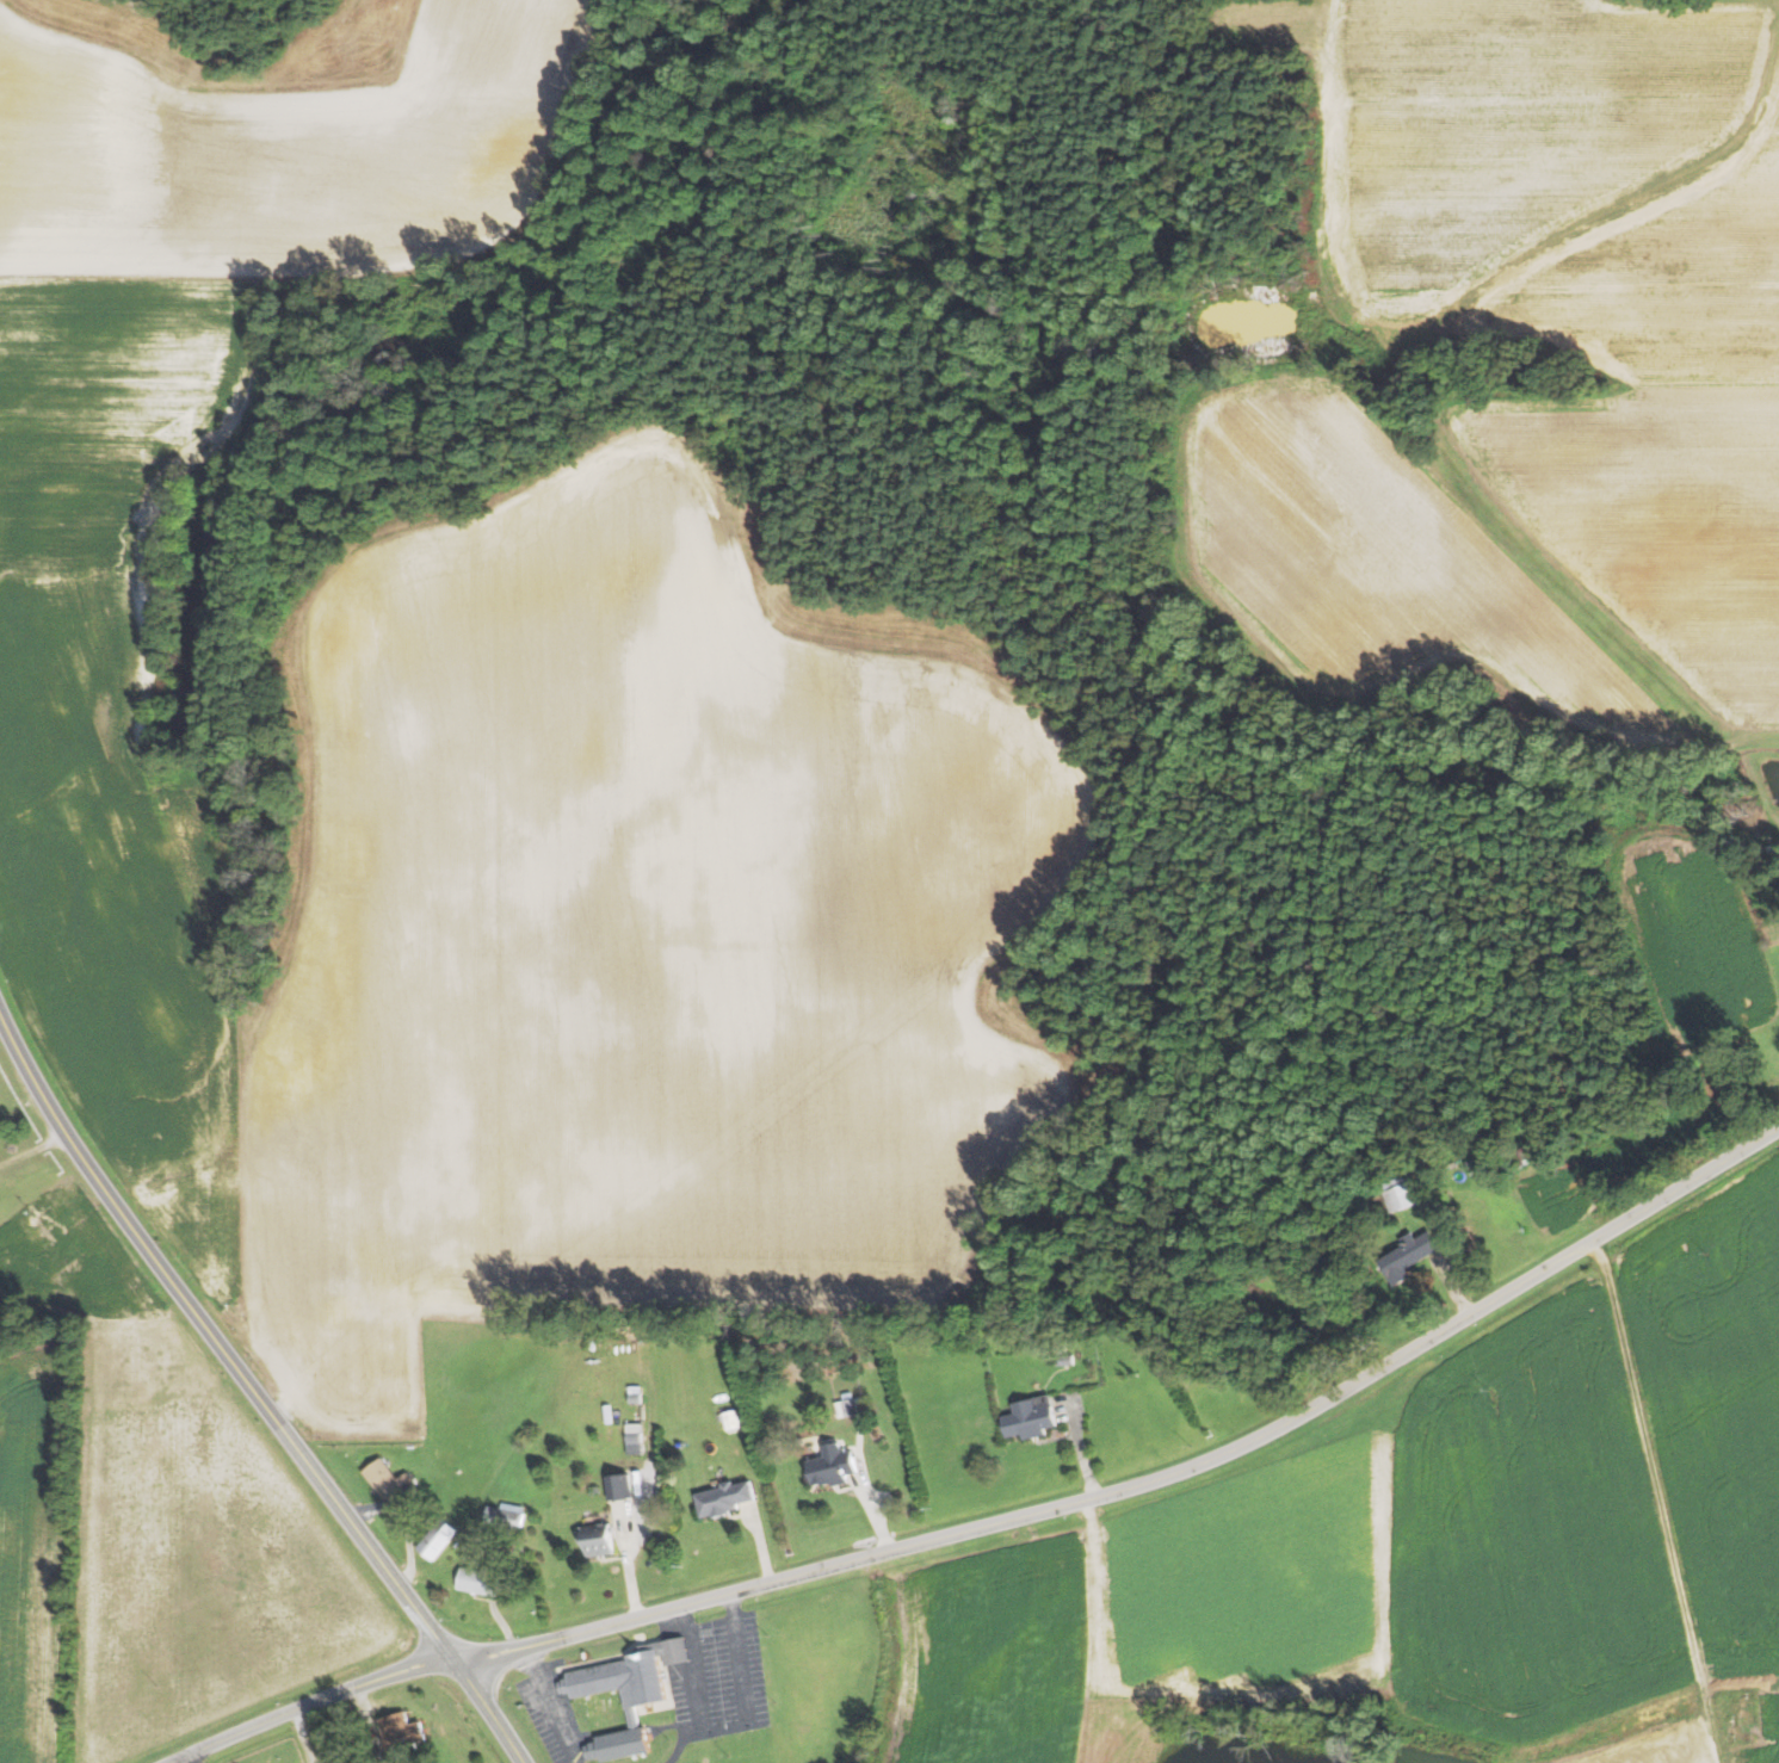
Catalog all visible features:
building: (1413, 1256)
road: (255, 1393)
building: (1033, 1417)
building: (733, 1419)
crop: (1717, 1419)
building: (636, 1442)
building: (835, 1466)
building: (390, 1481)
building: (622, 1487)
building: (728, 1498)
road: (1656, 1501)
building: (507, 1516)
road: (1005, 1521)
crop: (186, 1523)
building: (439, 1539)
building: (599, 1540)
crop: (30, 1552)
building: (481, 1582)
crop: (1340, 1585)
road: (691, 1669)
parking lot: (715, 1670)
building: (630, 1691)
road: (552, 1705)
road: (747, 1706)
parking lot: (549, 1707)
park: (1737, 1715)
road: (367, 1720)
building: (400, 1734)
road: (303, 1736)
road: (184, 1759)

